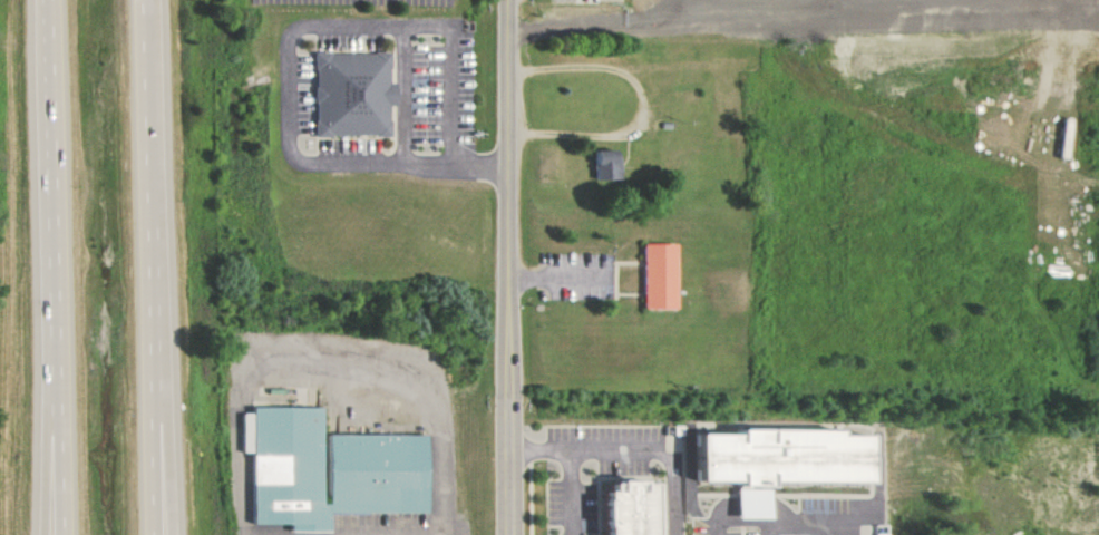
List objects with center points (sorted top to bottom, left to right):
building: (335, 101)
building: (603, 165)
road: (58, 266)
road: (148, 266)
road: (507, 267)
building: (645, 282)
road: (164, 383)
road: (46, 396)
building: (679, 439)
building: (774, 461)
building: (366, 479)
building: (629, 508)

